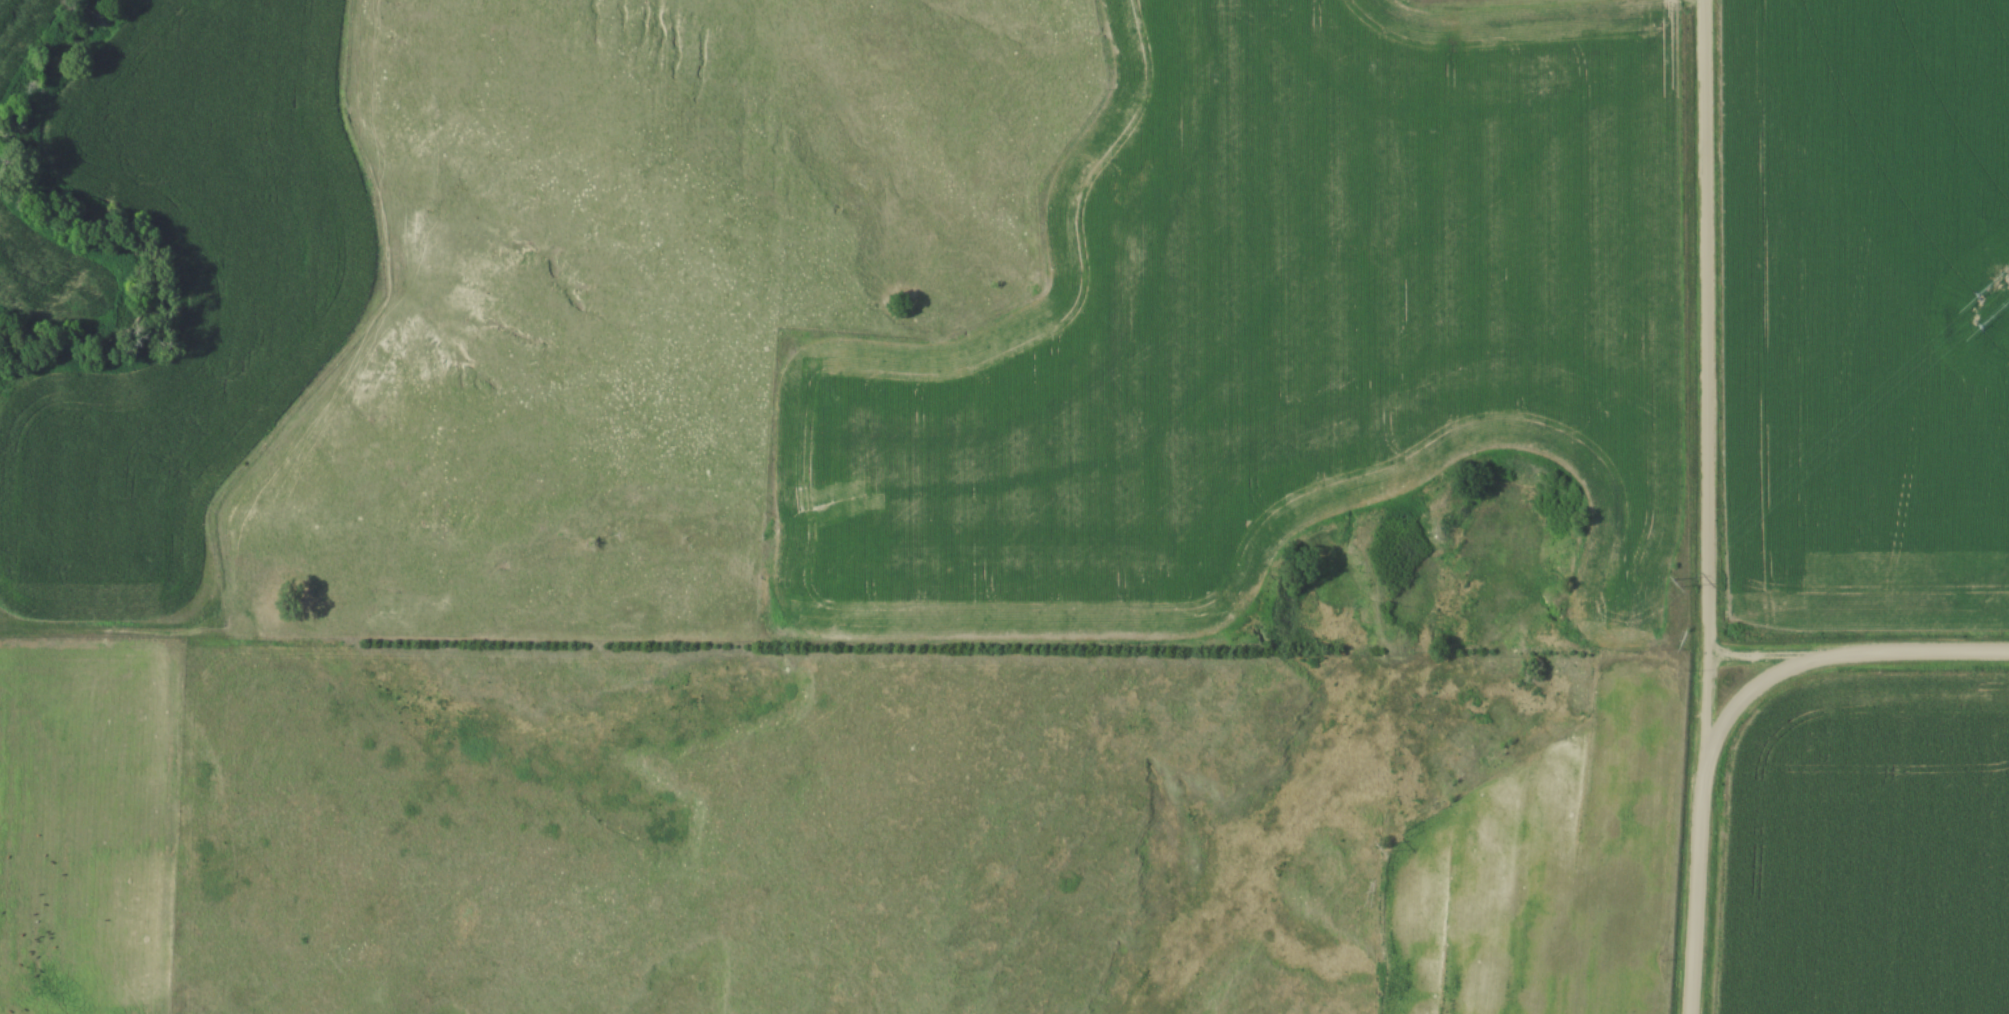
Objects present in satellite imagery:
road: (1701, 382)
power tower: (1675, 584)
road: (1779, 651)
road: (1828, 653)
power tower: (1378, 845)
road: (1693, 889)

